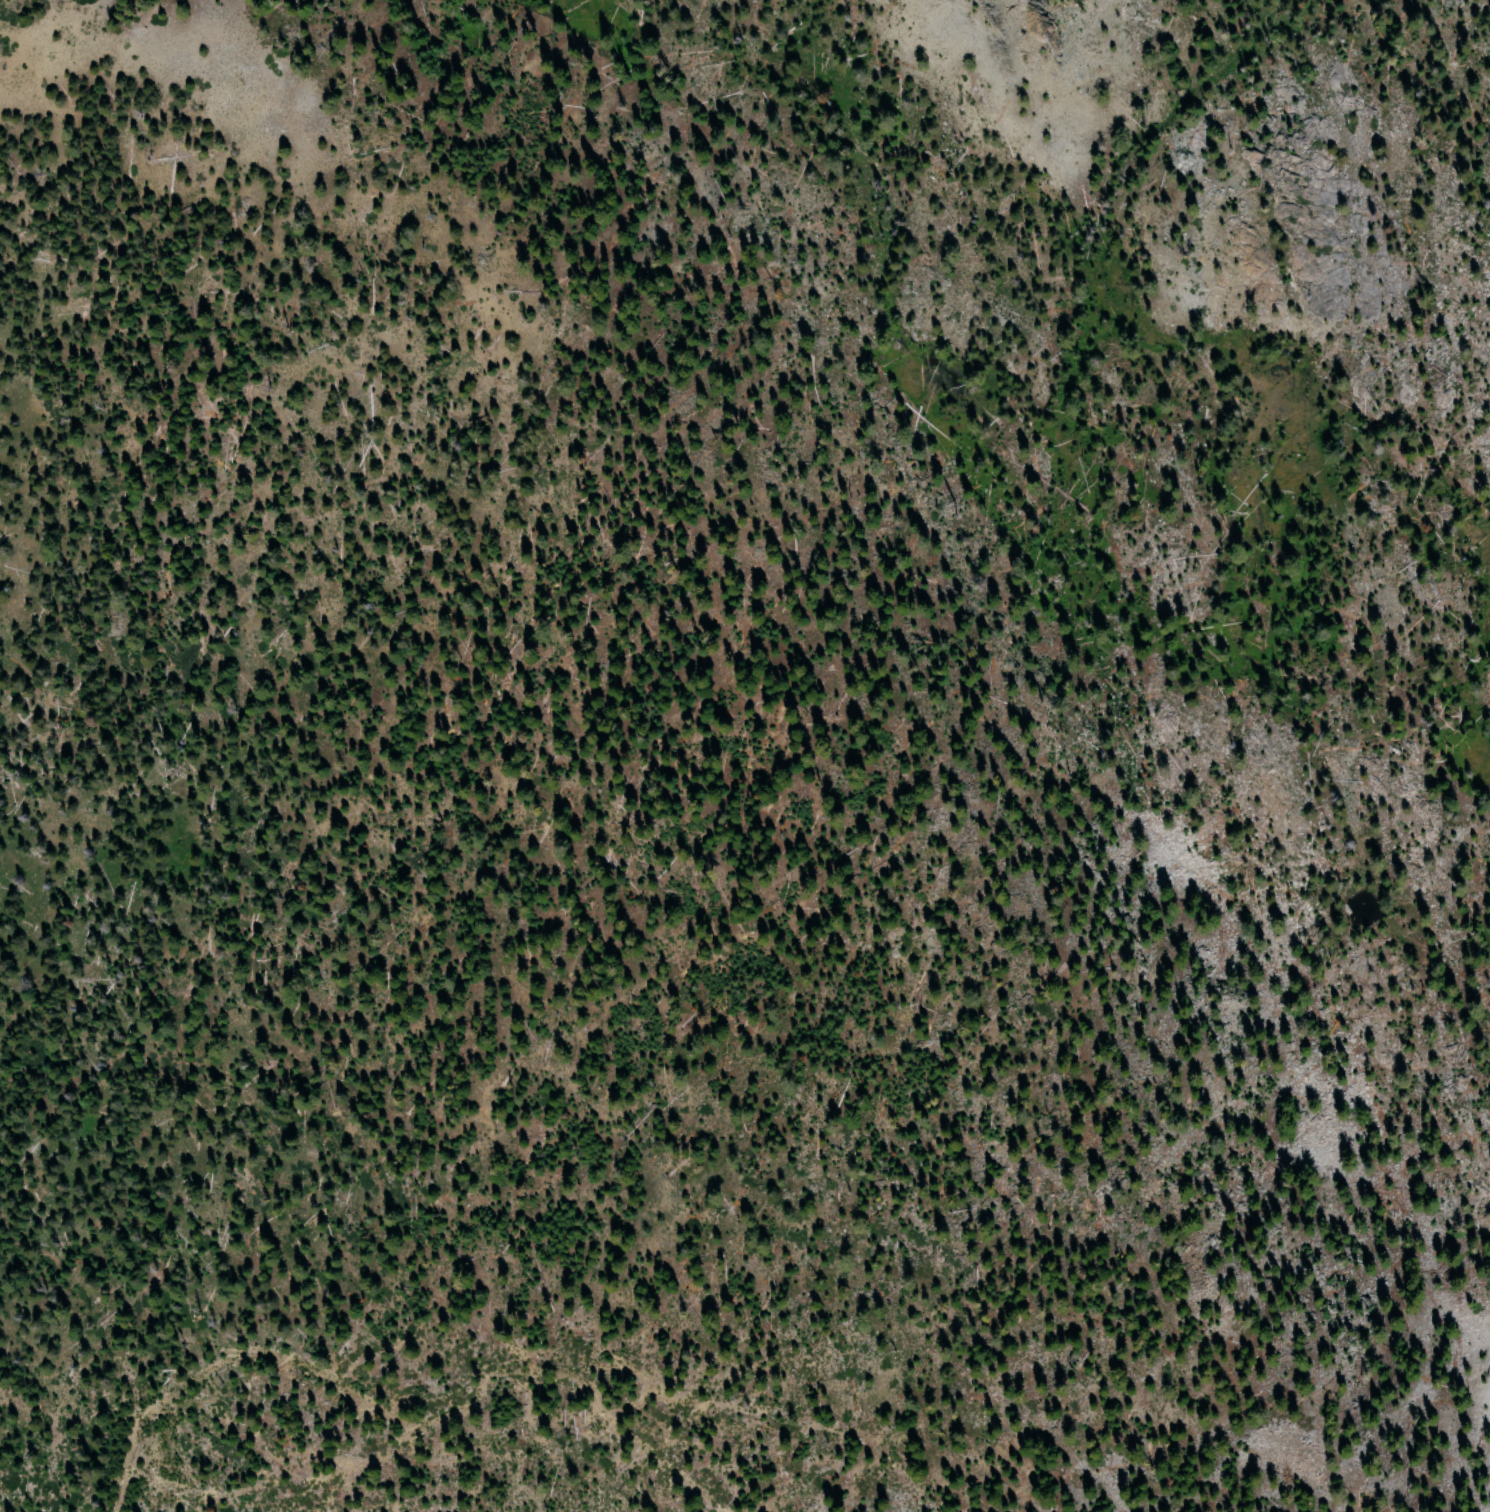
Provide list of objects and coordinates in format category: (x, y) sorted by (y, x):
road: (129, 1508)

